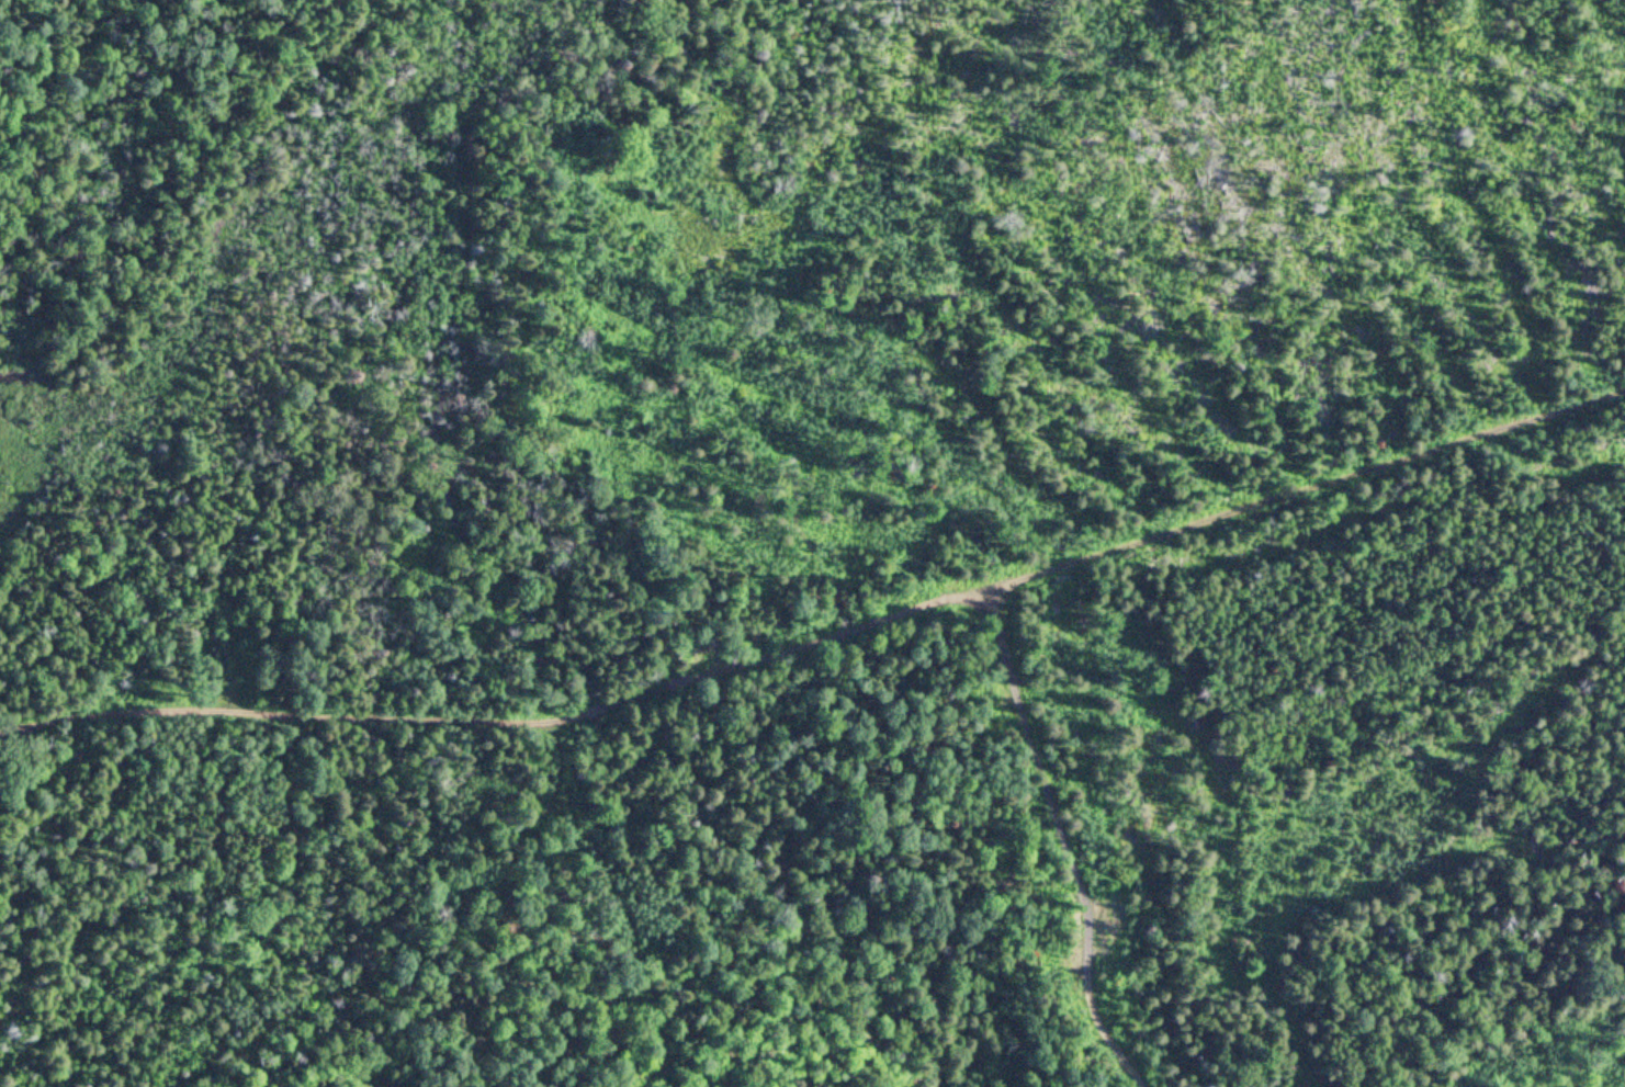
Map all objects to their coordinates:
road: (823, 635)
road: (1067, 840)

